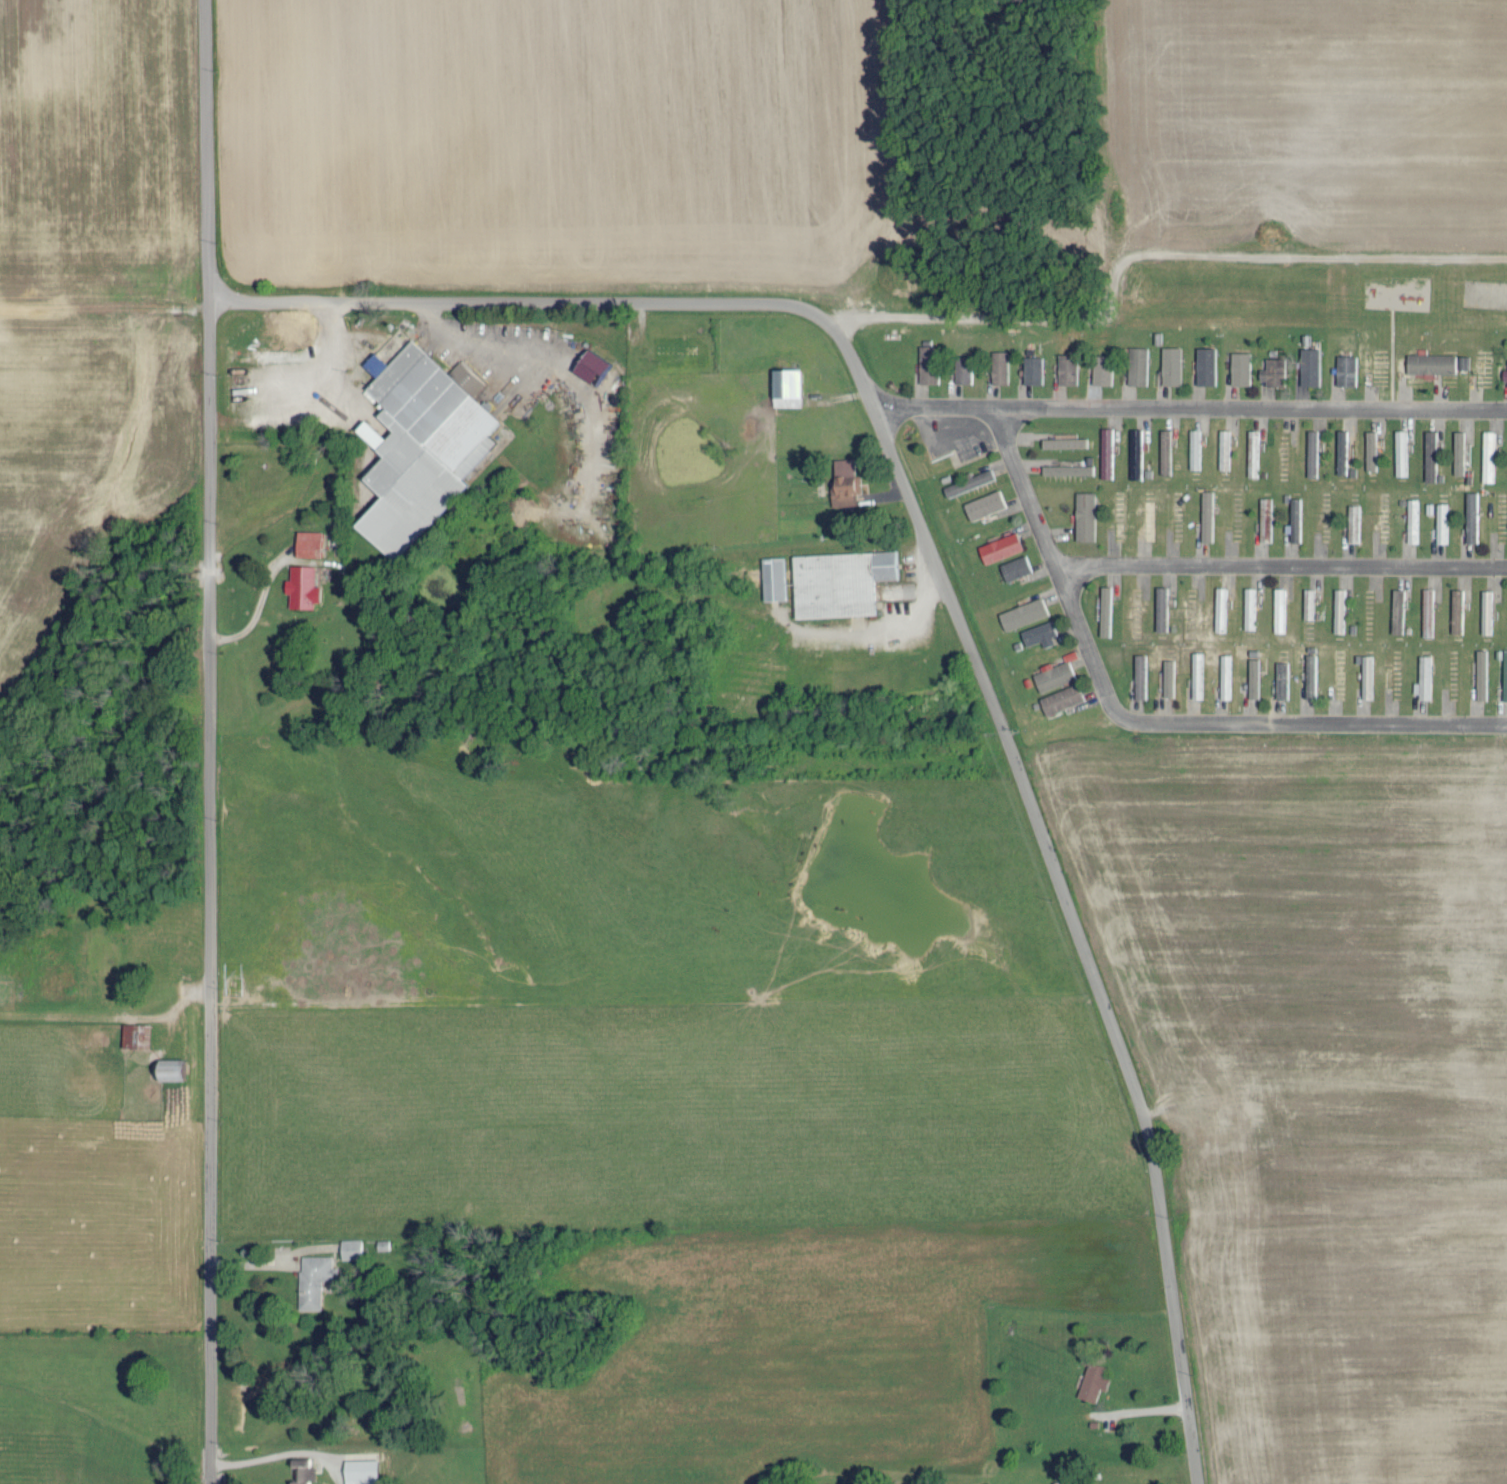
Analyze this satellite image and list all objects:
building: (287, 322)
building: (1430, 362)
building: (926, 363)
building: (1136, 364)
building: (1170, 364)
building: (589, 365)
building: (1309, 365)
building: (998, 366)
building: (1239, 366)
building: (961, 368)
building: (1066, 368)
building: (1101, 368)
building: (1031, 369)
building: (1345, 369)
building: (1271, 370)
building: (1505, 376)
building: (785, 386)
road: (1190, 405)
building: (1063, 441)
building: (418, 442)
building: (1193, 447)
building: (1164, 449)
building: (1370, 449)
building: (1340, 450)
building: (1106, 451)
building: (1400, 451)
building: (1458, 451)
building: (1252, 452)
building: (1310, 453)
building: (1429, 454)
building: (1487, 455)
building: (1066, 468)
building: (843, 481)
building: (967, 481)
building: (983, 504)
building: (1084, 514)
building: (1205, 514)
building: (1264, 518)
building: (1411, 519)
building: (1146, 523)
building: (1352, 524)
building: (1441, 524)
building: (1470, 524)
building: (307, 542)
building: (999, 546)
road: (1281, 565)
building: (1014, 566)
building: (772, 577)
building: (838, 581)
building: (300, 586)
road: (948, 596)
building: (1427, 597)
building: (1308, 602)
building: (1248, 607)
building: (1159, 608)
building: (1219, 608)
building: (1456, 608)
building: (1104, 609)
building: (1278, 609)
building: (1338, 609)
building: (1396, 609)
building: (1486, 610)
building: (1022, 612)
building: (1038, 633)
building: (1480, 673)
building: (1052, 674)
building: (1196, 674)
building: (1309, 674)
building: (1139, 675)
building: (1224, 675)
building: (1366, 675)
building: (1504, 675)
building: (1167, 676)
building: (1422, 676)
building: (1252, 677)
building: (1281, 679)
building: (1060, 697)
road: (1147, 720)
road: (207, 741)
building: (128, 1033)
building: (168, 1067)
building: (349, 1247)
building: (312, 1277)
building: (1093, 1378)
building: (300, 1470)
building: (359, 1470)

